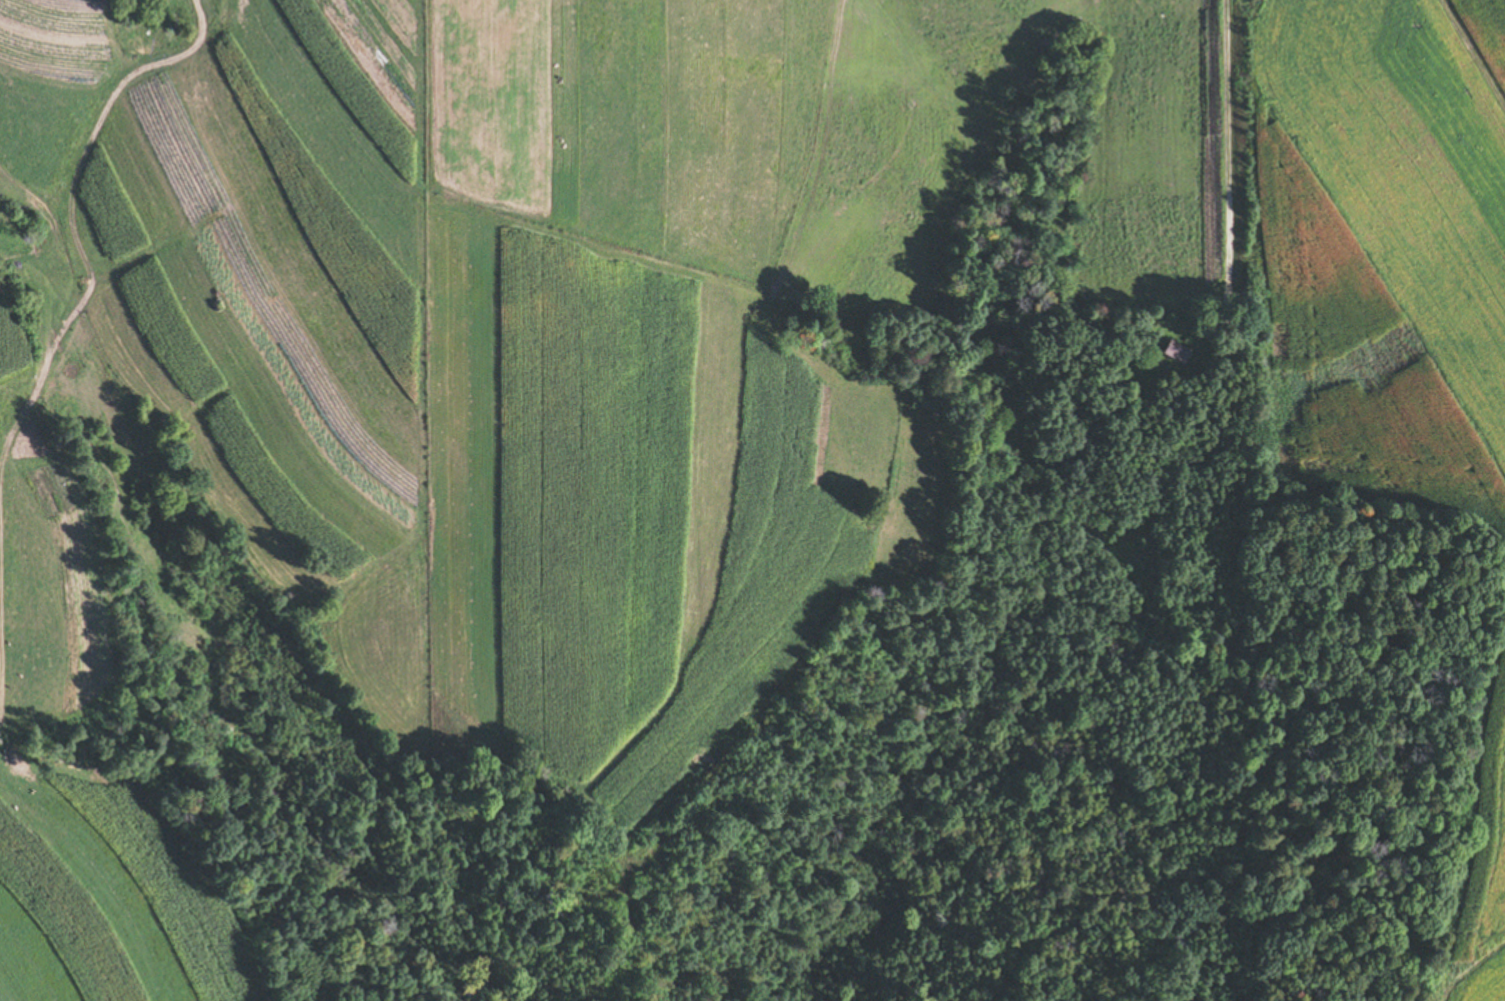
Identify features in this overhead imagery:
crop: (1482, 37)
crop: (46, 76)
crop: (796, 114)
crop: (902, 142)
crop: (5, 221)
crop: (281, 304)
crop: (1385, 304)
building: (1172, 351)
crop: (626, 393)
crop: (39, 558)
crop: (102, 900)
crop: (1487, 986)

